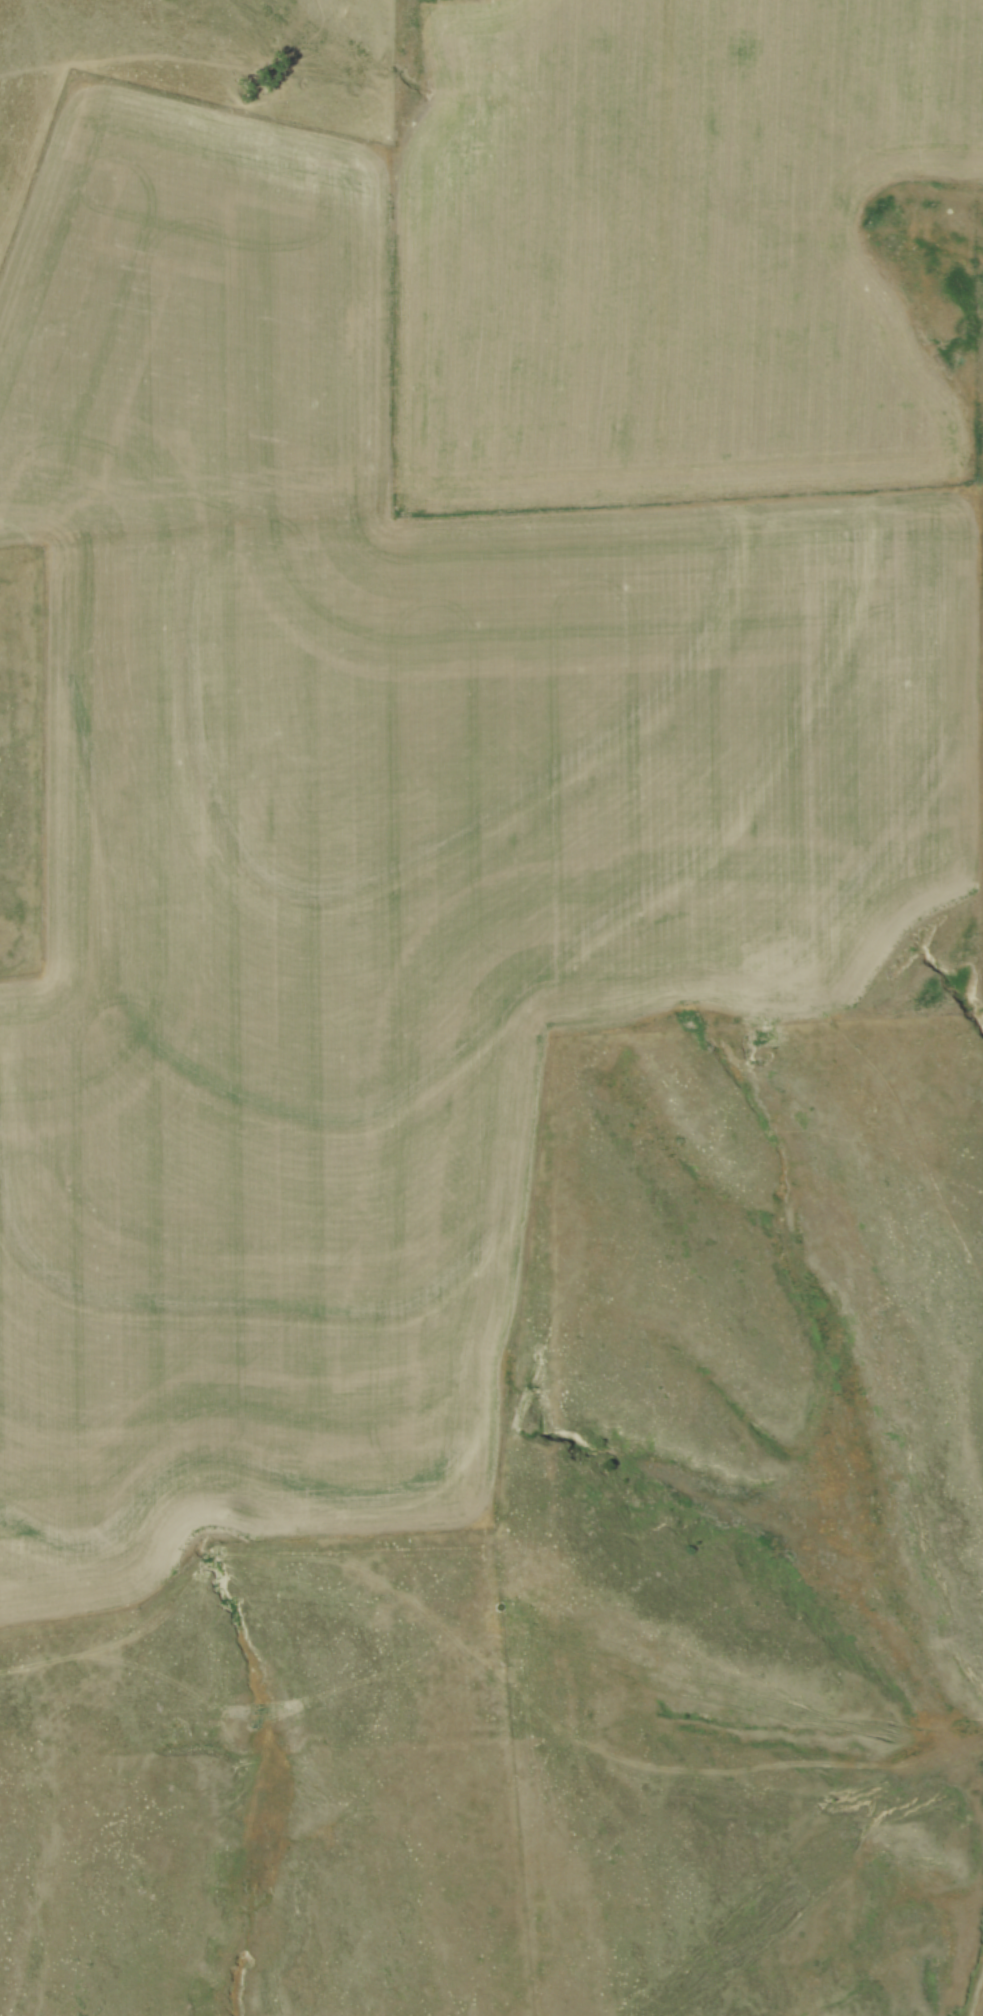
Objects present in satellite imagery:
crop: (670, 247)
crop: (195, 322)

